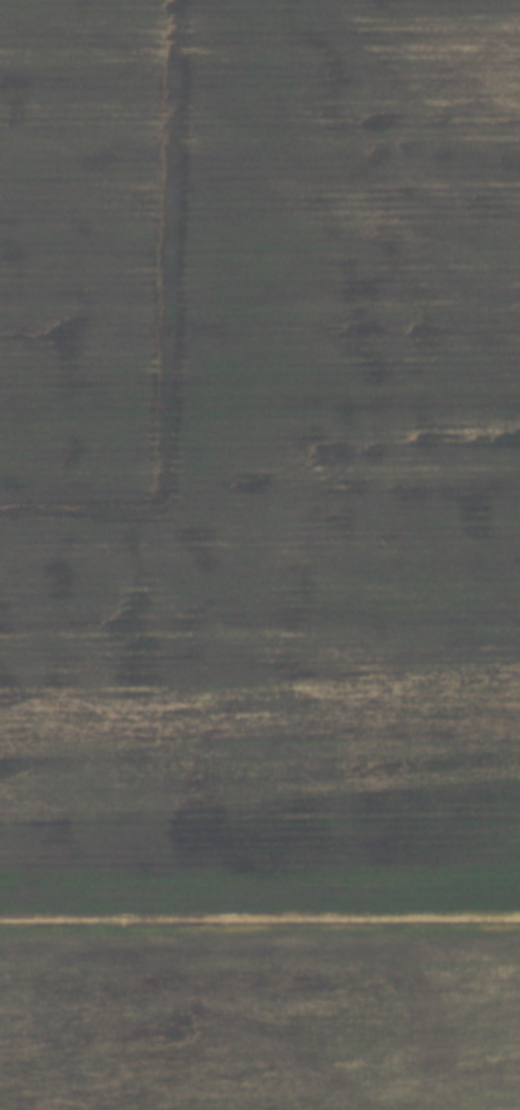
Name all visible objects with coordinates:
road: (260, 921)

